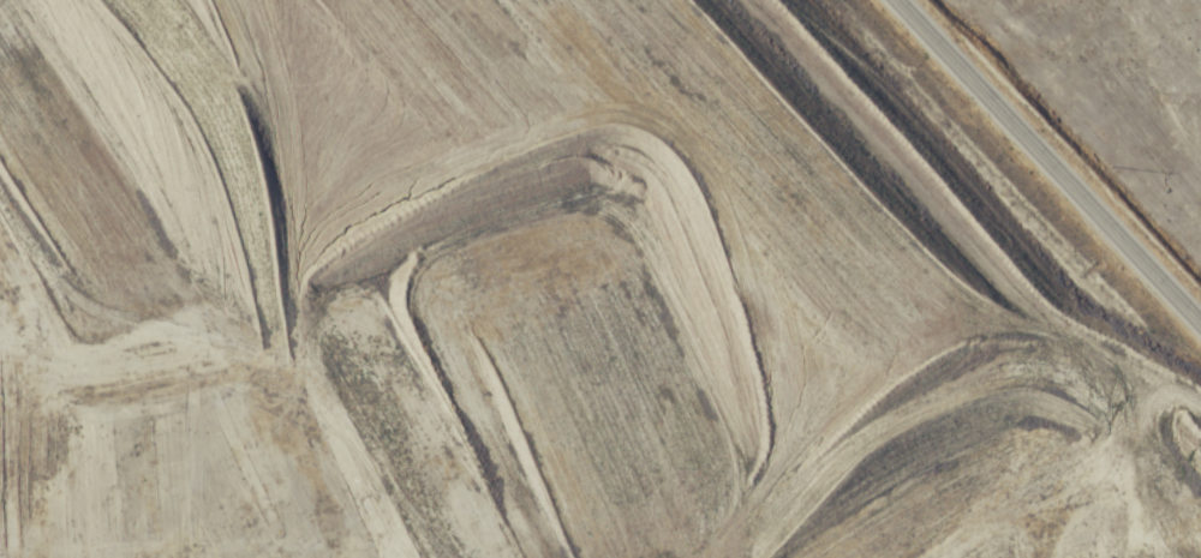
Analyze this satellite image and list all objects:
road: (1056, 155)
road: (161, 326)

